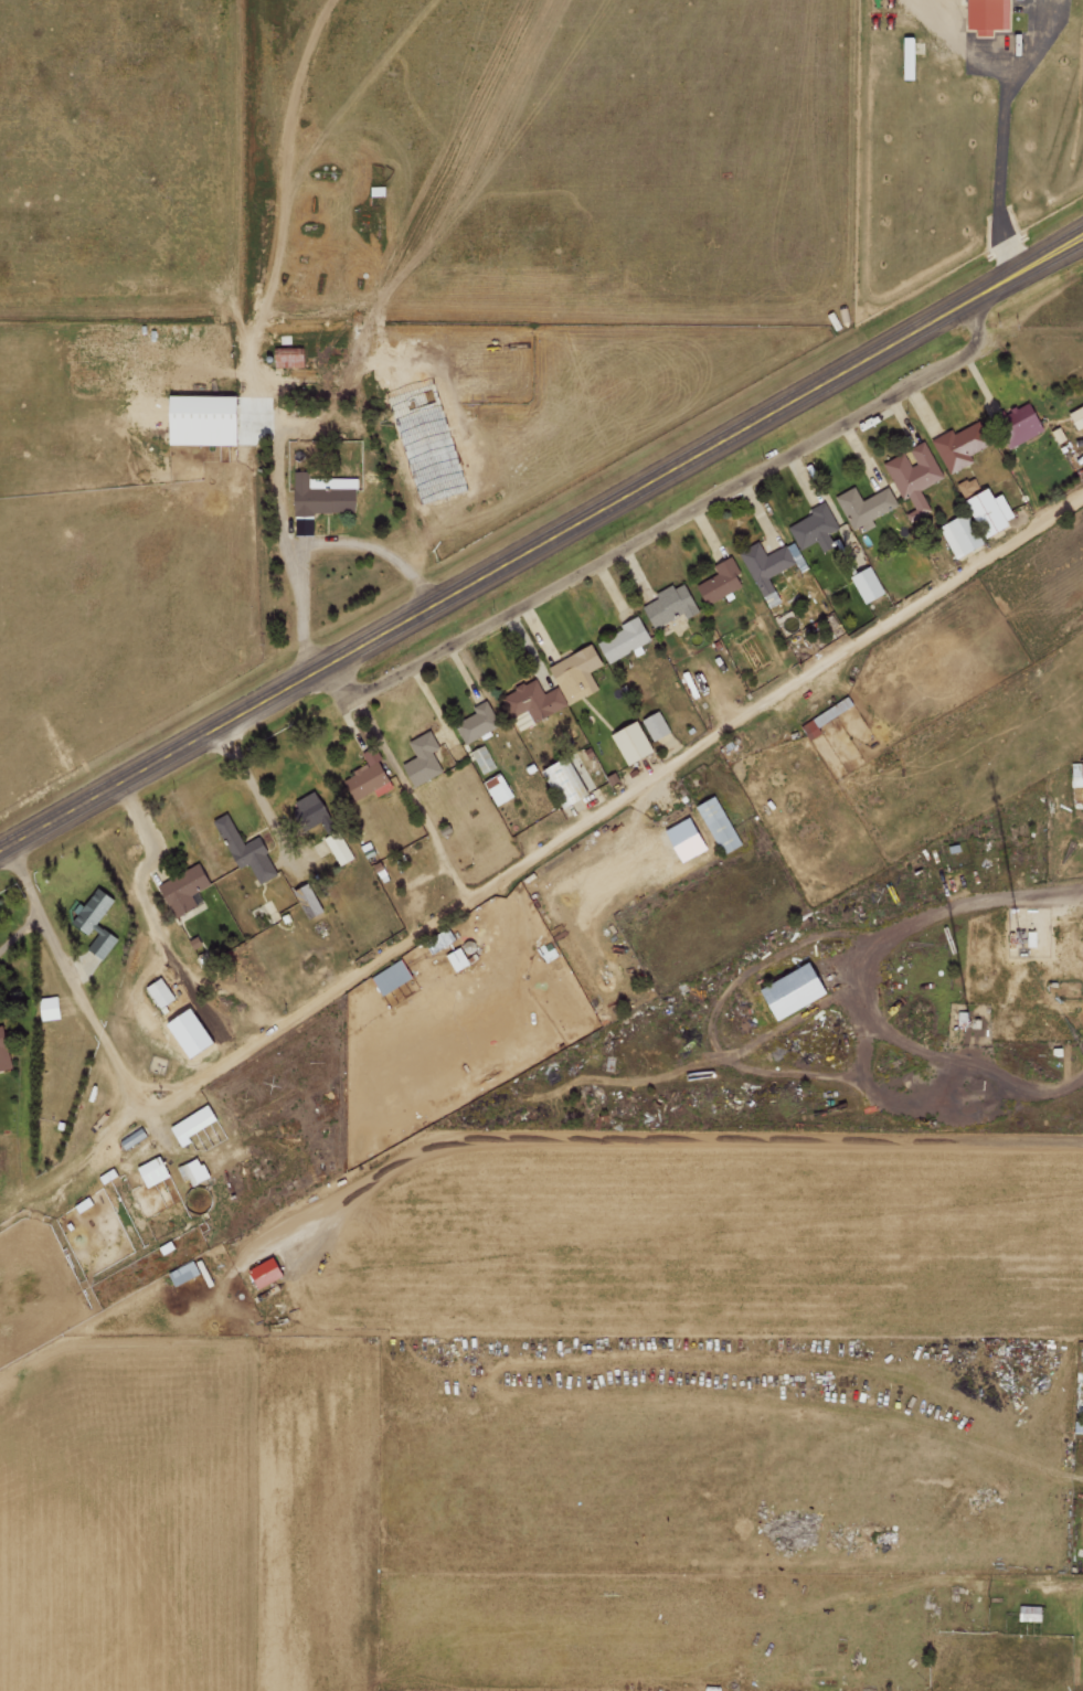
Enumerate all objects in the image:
building: (986, 13)
building: (911, 51)
building: (339, 350)
building: (290, 357)
building: (1077, 417)
building: (208, 419)
building: (1021, 424)
building: (963, 445)
building: (915, 474)
building: (969, 486)
building: (323, 496)
building: (866, 504)
building: (994, 511)
building: (816, 528)
building: (963, 534)
road: (541, 536)
building: (769, 563)
building: (723, 581)
building: (870, 584)
road: (712, 585)
building: (671, 605)
building: (625, 639)
building: (578, 673)
building: (534, 701)
building: (828, 717)
building: (479, 722)
building: (658, 725)
building: (635, 743)
building: (424, 758)
building: (484, 758)
building: (370, 779)
building: (569, 781)
building: (501, 788)
building: (314, 808)
building: (721, 825)
building: (690, 839)
building: (339, 848)
building: (247, 850)
building: (185, 889)
building: (310, 901)
building: (97, 922)
building: (393, 977)
building: (800, 989)
building: (162, 992)
building: (4, 1051)
building: (193, 1125)
building: (135, 1138)
building: (155, 1171)
building: (195, 1172)
building: (109, 1176)
building: (269, 1273)
building: (1028, 1613)

